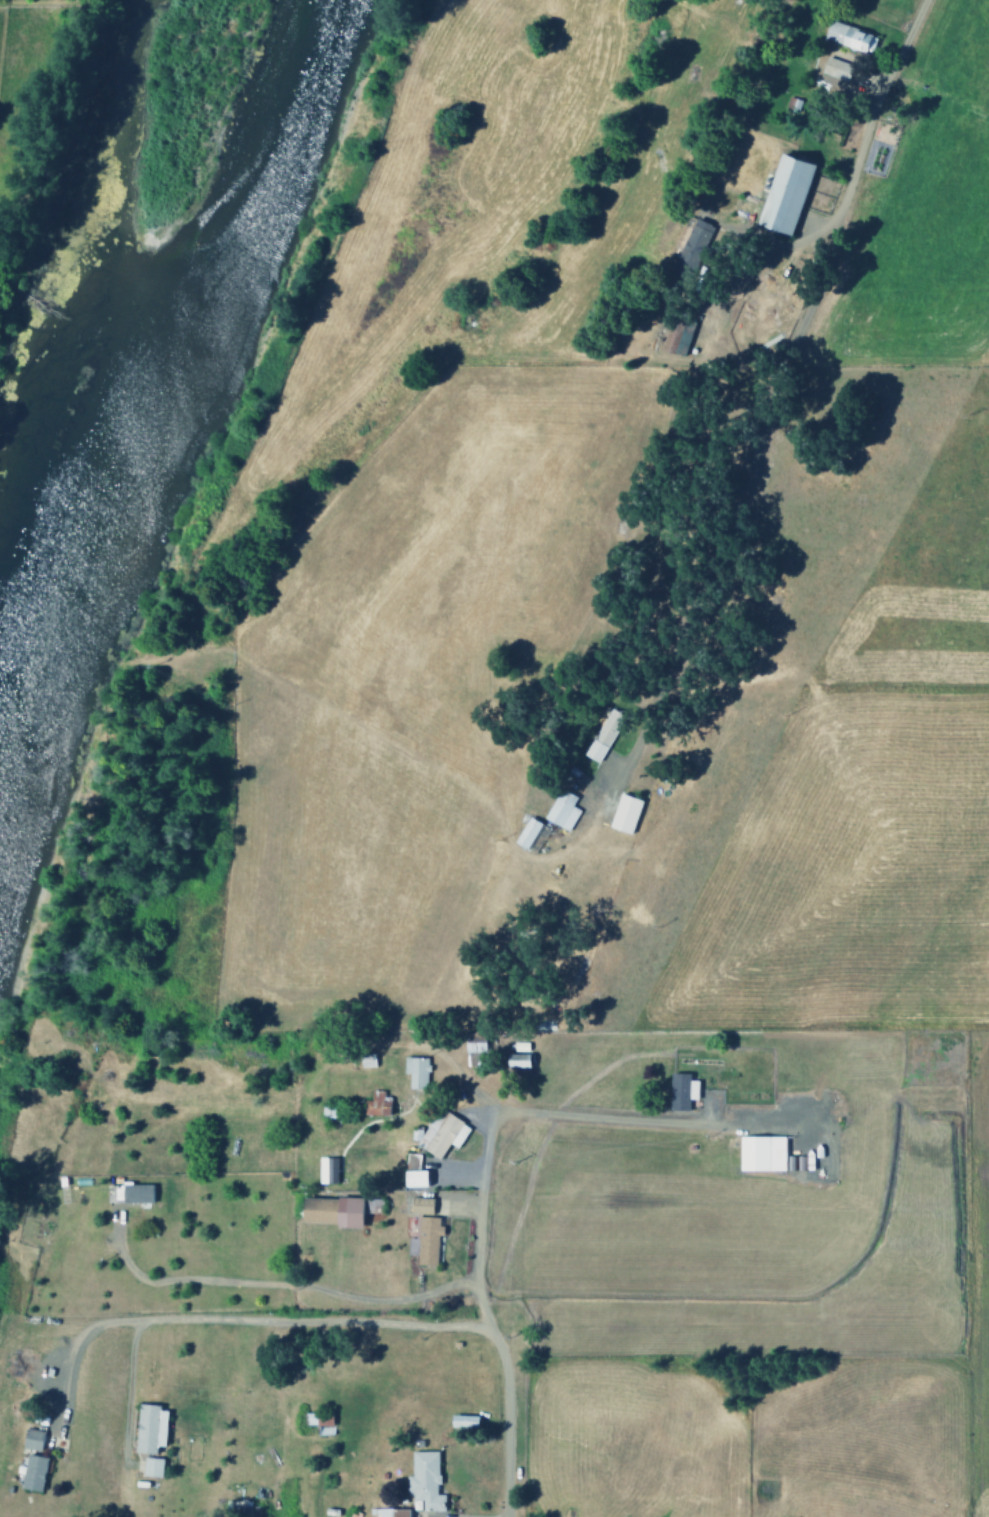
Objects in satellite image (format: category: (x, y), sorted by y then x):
building: (847, 36)
building: (783, 193)
building: (690, 242)
river: (160, 360)
road: (779, 390)
building: (601, 735)
building: (560, 810)
building: (623, 813)
building: (525, 833)
building: (473, 1049)
building: (515, 1065)
building: (414, 1072)
building: (680, 1091)
building: (375, 1104)
building: (440, 1134)
building: (760, 1153)
building: (325, 1170)
building: (413, 1179)
building: (329, 1212)
building: (422, 1232)
road: (483, 1317)
building: (318, 1422)
building: (148, 1427)
building: (30, 1439)
building: (150, 1466)
building: (31, 1472)
building: (424, 1480)
building: (393, 1512)

